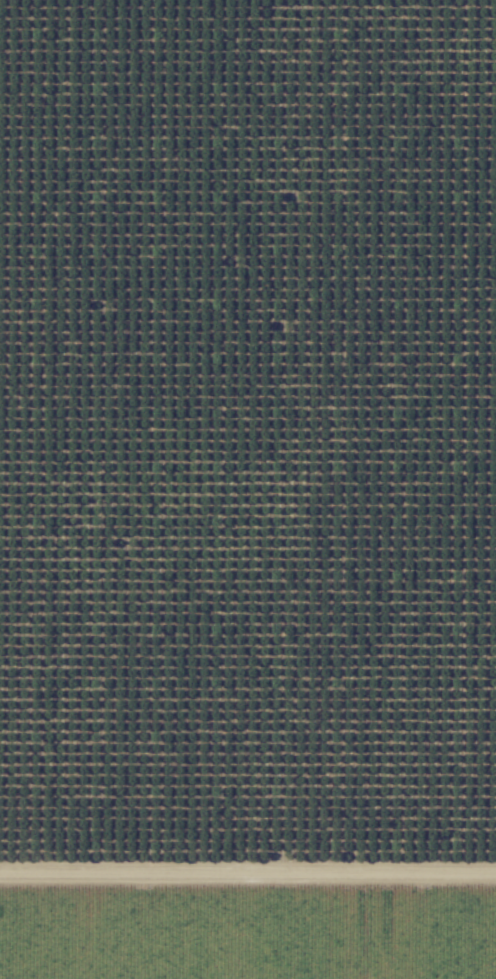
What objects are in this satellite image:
road: (248, 871)
crop: (249, 934)

